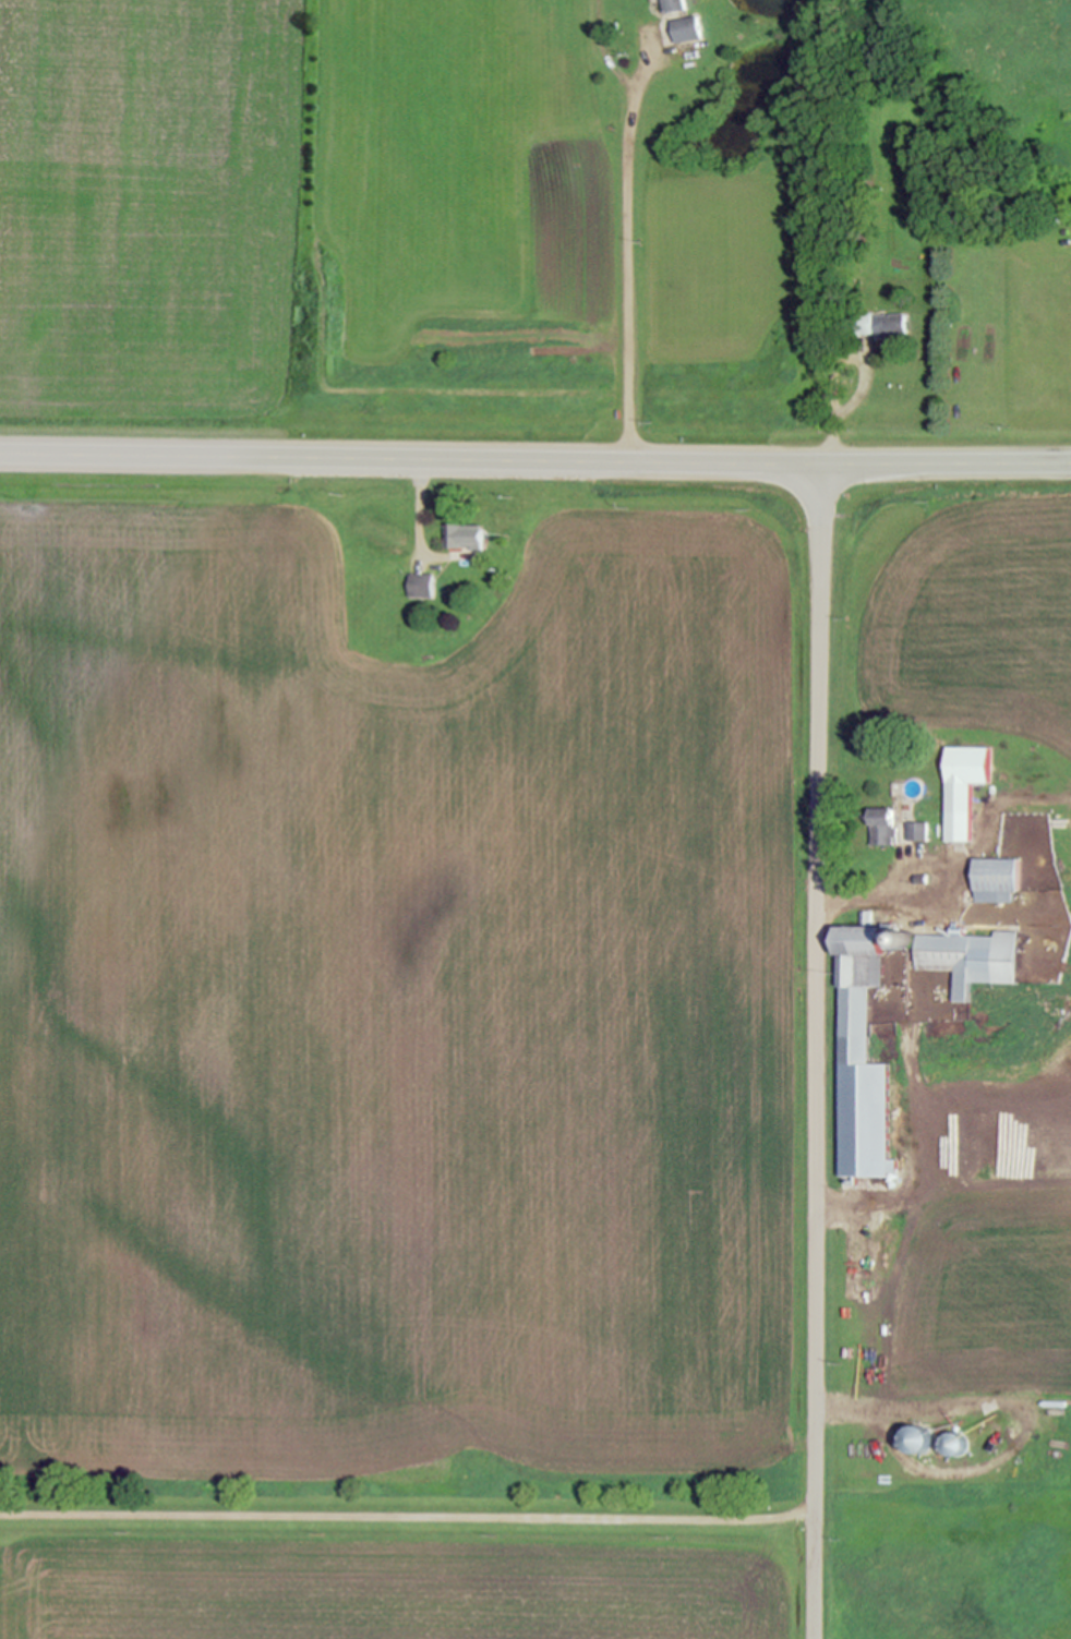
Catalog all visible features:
building: (675, 7)
building: (689, 32)
road: (597, 50)
building: (1059, 220)
building: (1028, 221)
road: (618, 246)
building: (880, 325)
road: (409, 458)
road: (946, 465)
building: (466, 538)
building: (418, 587)
building: (896, 788)
building: (912, 788)
building: (959, 810)
building: (883, 827)
building: (916, 831)
building: (998, 876)
building: (920, 879)
road: (930, 890)
building: (982, 896)
building: (1000, 896)
building: (893, 937)
building: (906, 939)
building: (970, 959)
building: (858, 983)
road: (816, 1051)
building: (917, 1441)
building: (954, 1445)
road: (408, 1521)

